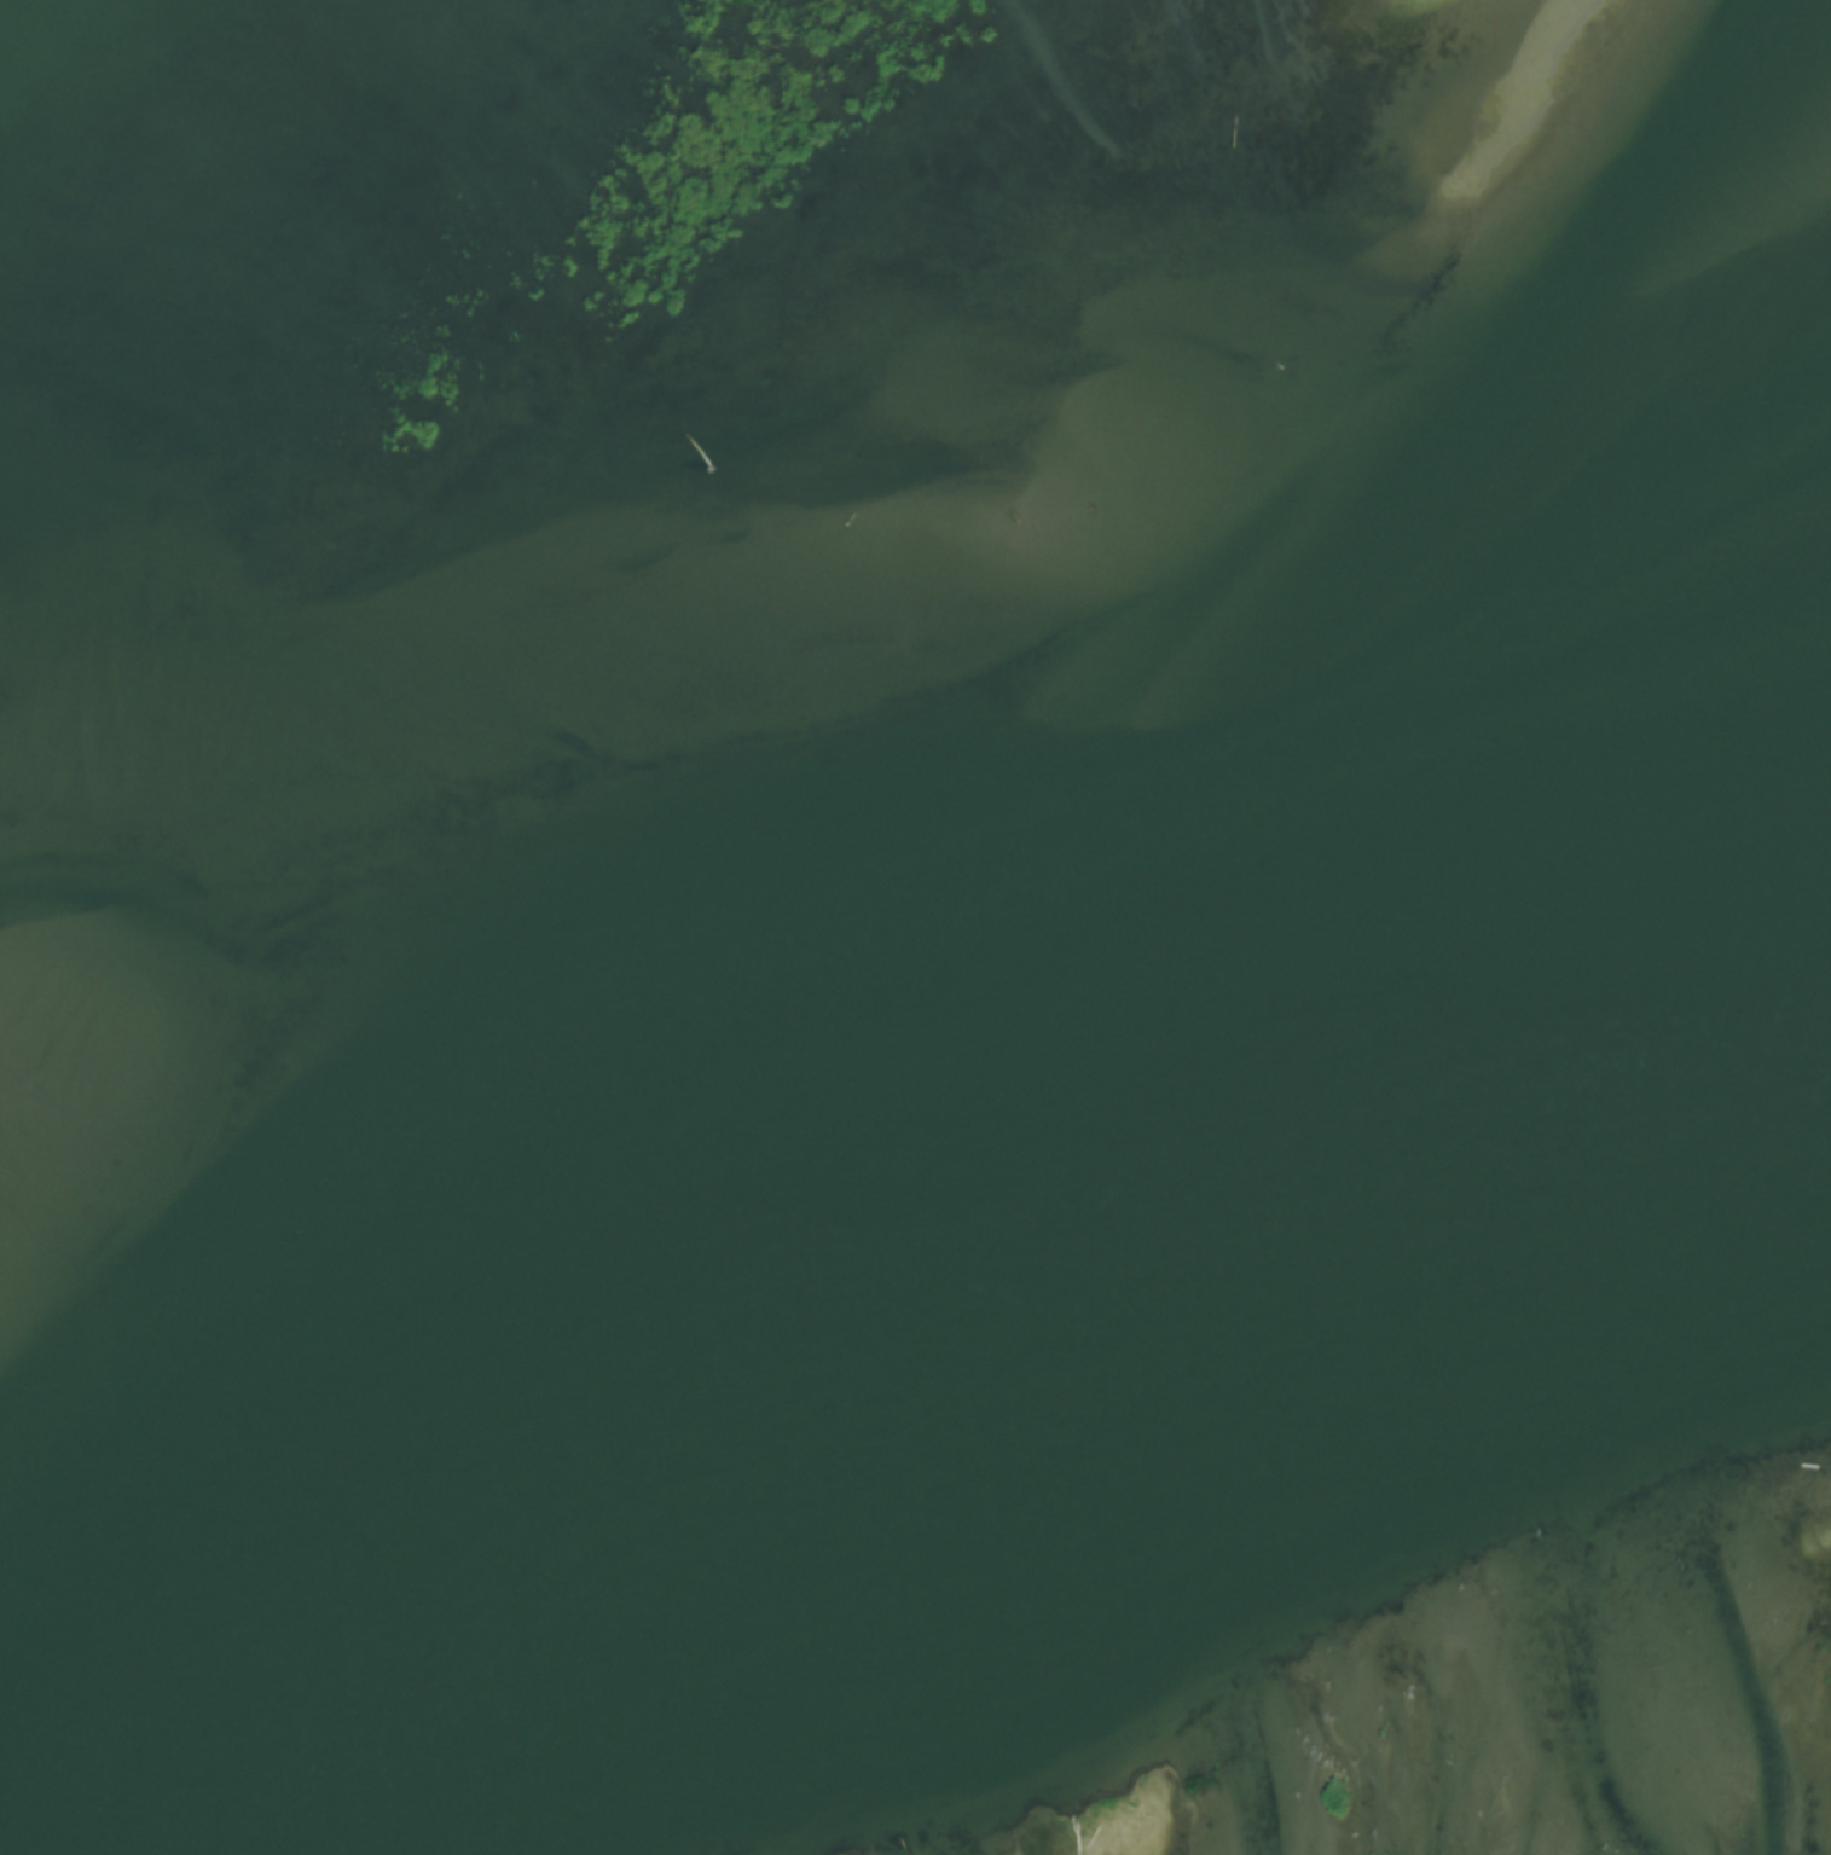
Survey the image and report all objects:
river: (1829, 1848)

